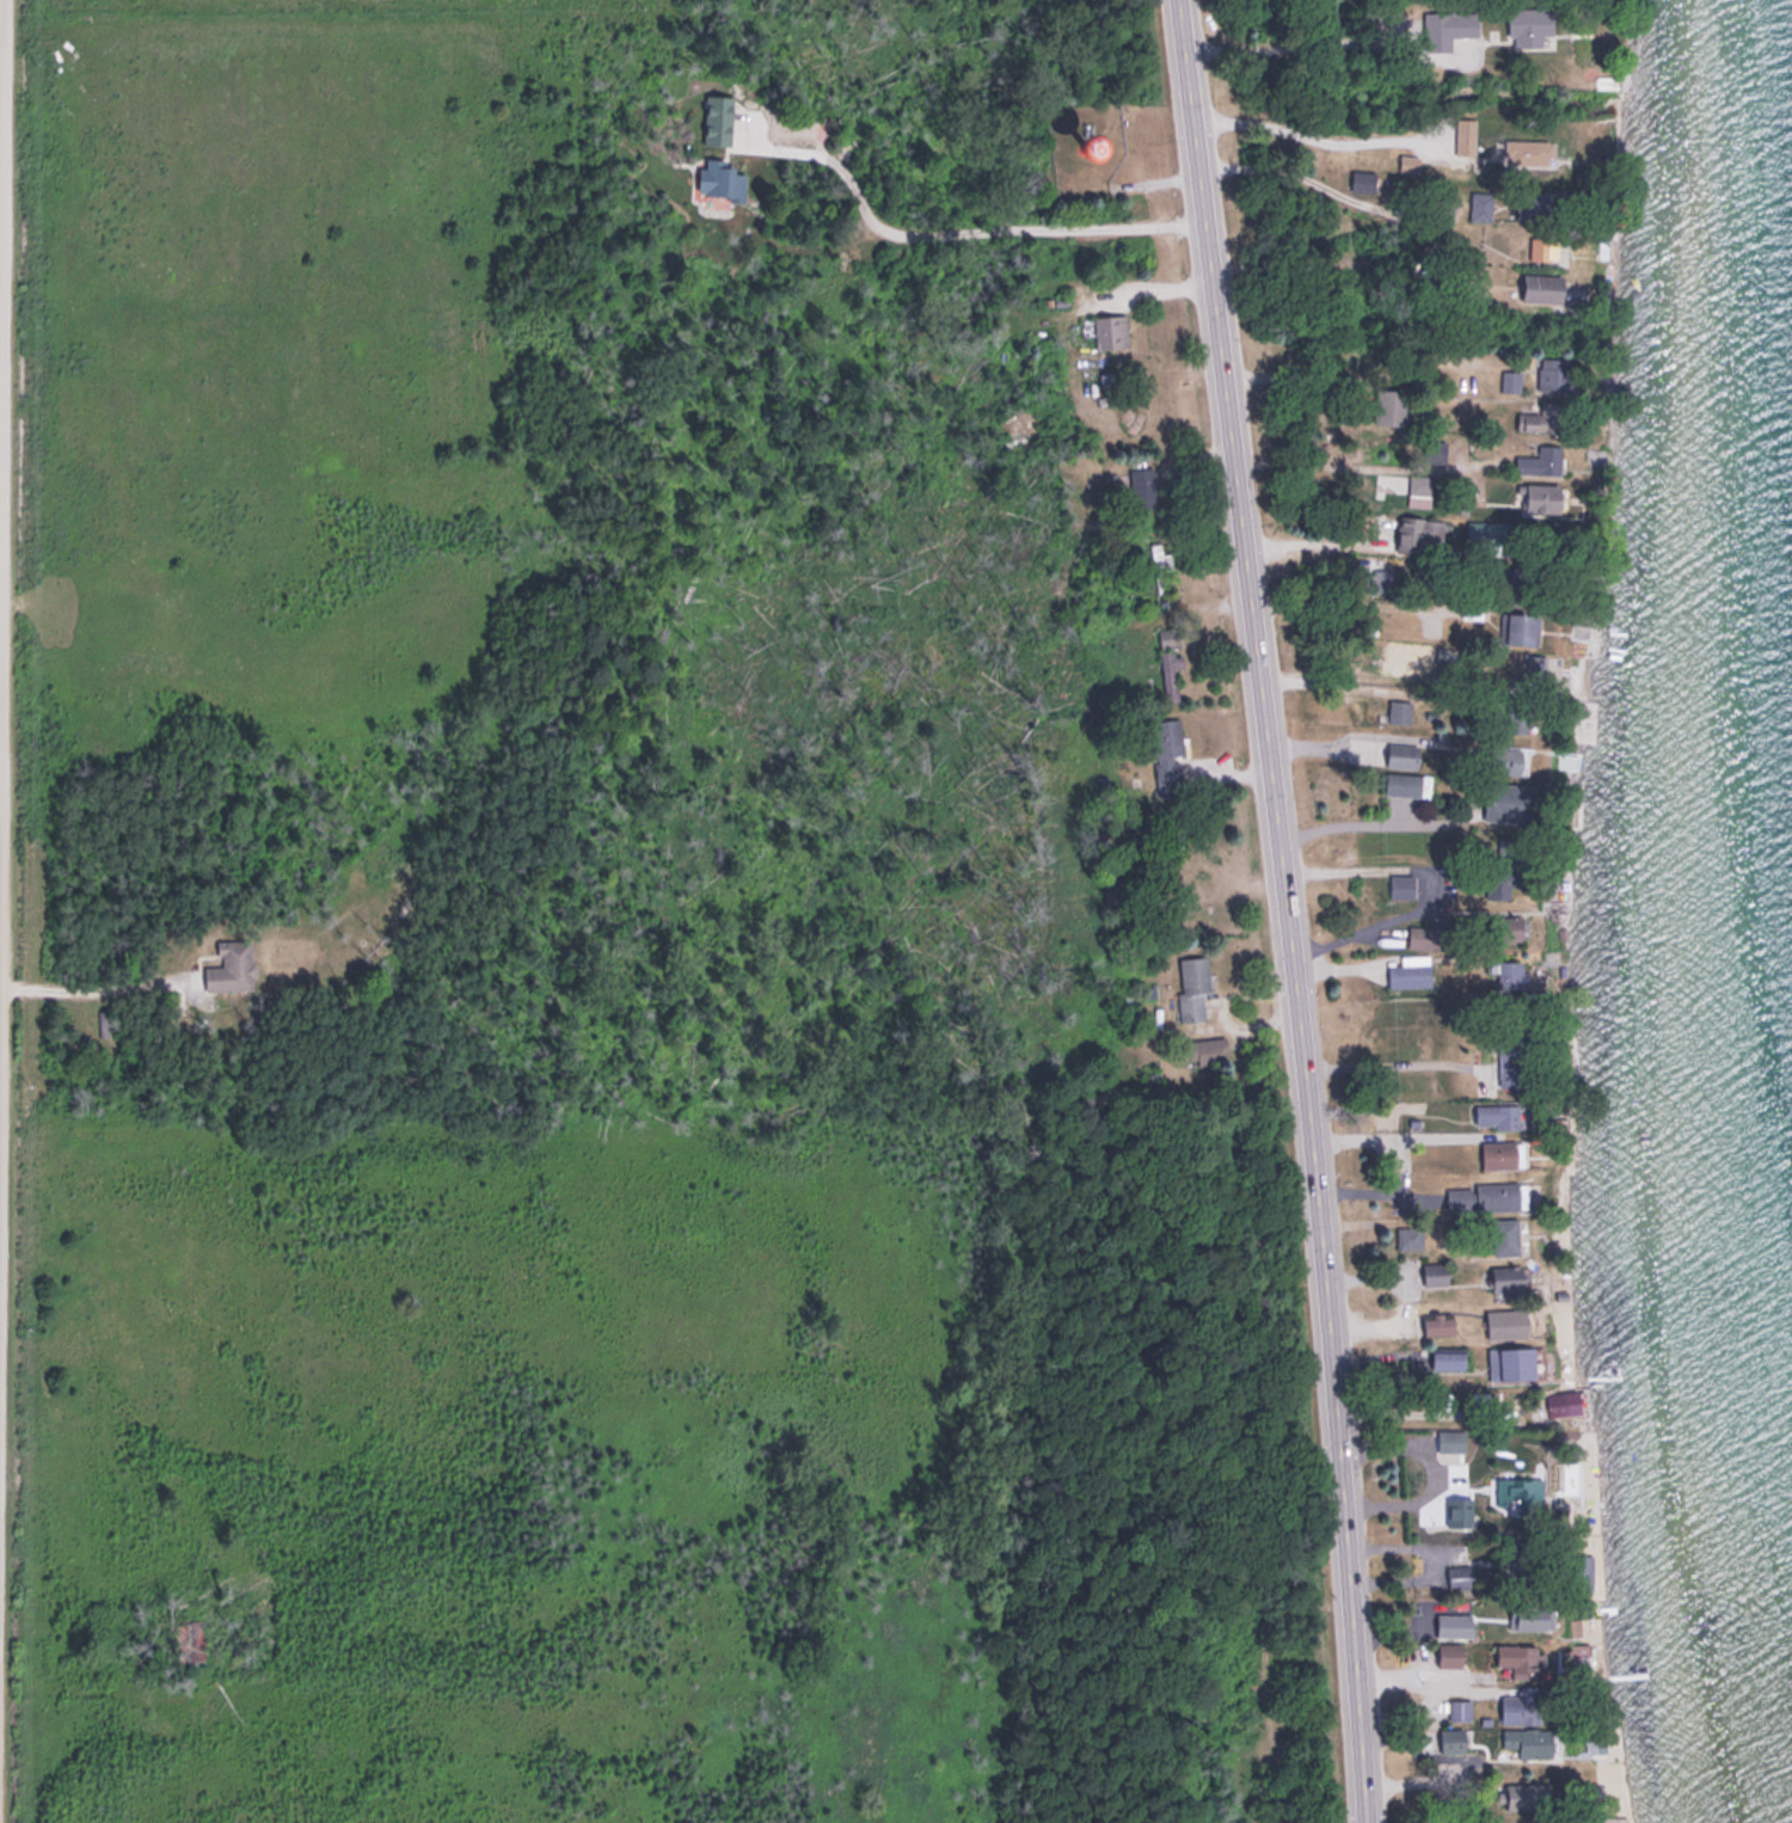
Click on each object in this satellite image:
building: (1456, 22)
building: (1530, 24)
building: (719, 119)
building: (1465, 134)
road: (1307, 139)
building: (1094, 148)
water tower: (1091, 151)
building: (1528, 151)
building: (1409, 161)
road: (1294, 176)
building: (723, 179)
building: (1366, 180)
building: (1479, 204)
road: (970, 229)
road: (1, 257)
building: (1544, 286)
building: (1106, 330)
building: (1554, 373)
building: (1511, 380)
building: (1389, 406)
building: (1542, 417)
building: (1541, 460)
building: (1142, 487)
building: (1419, 489)
building: (1539, 497)
building: (1491, 532)
building: (1419, 533)
building: (1517, 624)
building: (1170, 658)
building: (1400, 710)
building: (1514, 713)
building: (1584, 719)
building: (1167, 751)
building: (1403, 753)
building: (1512, 756)
building: (1407, 782)
building: (1505, 874)
building: (1400, 883)
building: (1116, 891)
road: (1288, 909)
building: (1430, 935)
building: (232, 964)
building: (1410, 970)
building: (1510, 974)
building: (1192, 984)
road: (91, 986)
building: (1205, 1049)
building: (1503, 1058)
building: (1116, 1097)
building: (1497, 1113)
building: (1503, 1152)
building: (1485, 1195)
building: (1504, 1233)
building: (1409, 1235)
building: (1434, 1272)
building: (1508, 1277)
building: (1438, 1321)
building: (1569, 1327)
building: (1448, 1357)
building: (1521, 1361)
building: (1565, 1402)
building: (1452, 1438)
building: (1566, 1477)
building: (1517, 1559)
road: (1430, 1560)
building: (1459, 1575)
building: (1450, 1651)
building: (1527, 1658)
building: (1522, 1704)
building: (1459, 1707)
building: (1453, 1738)
building: (1528, 1738)
building: (1528, 1793)

